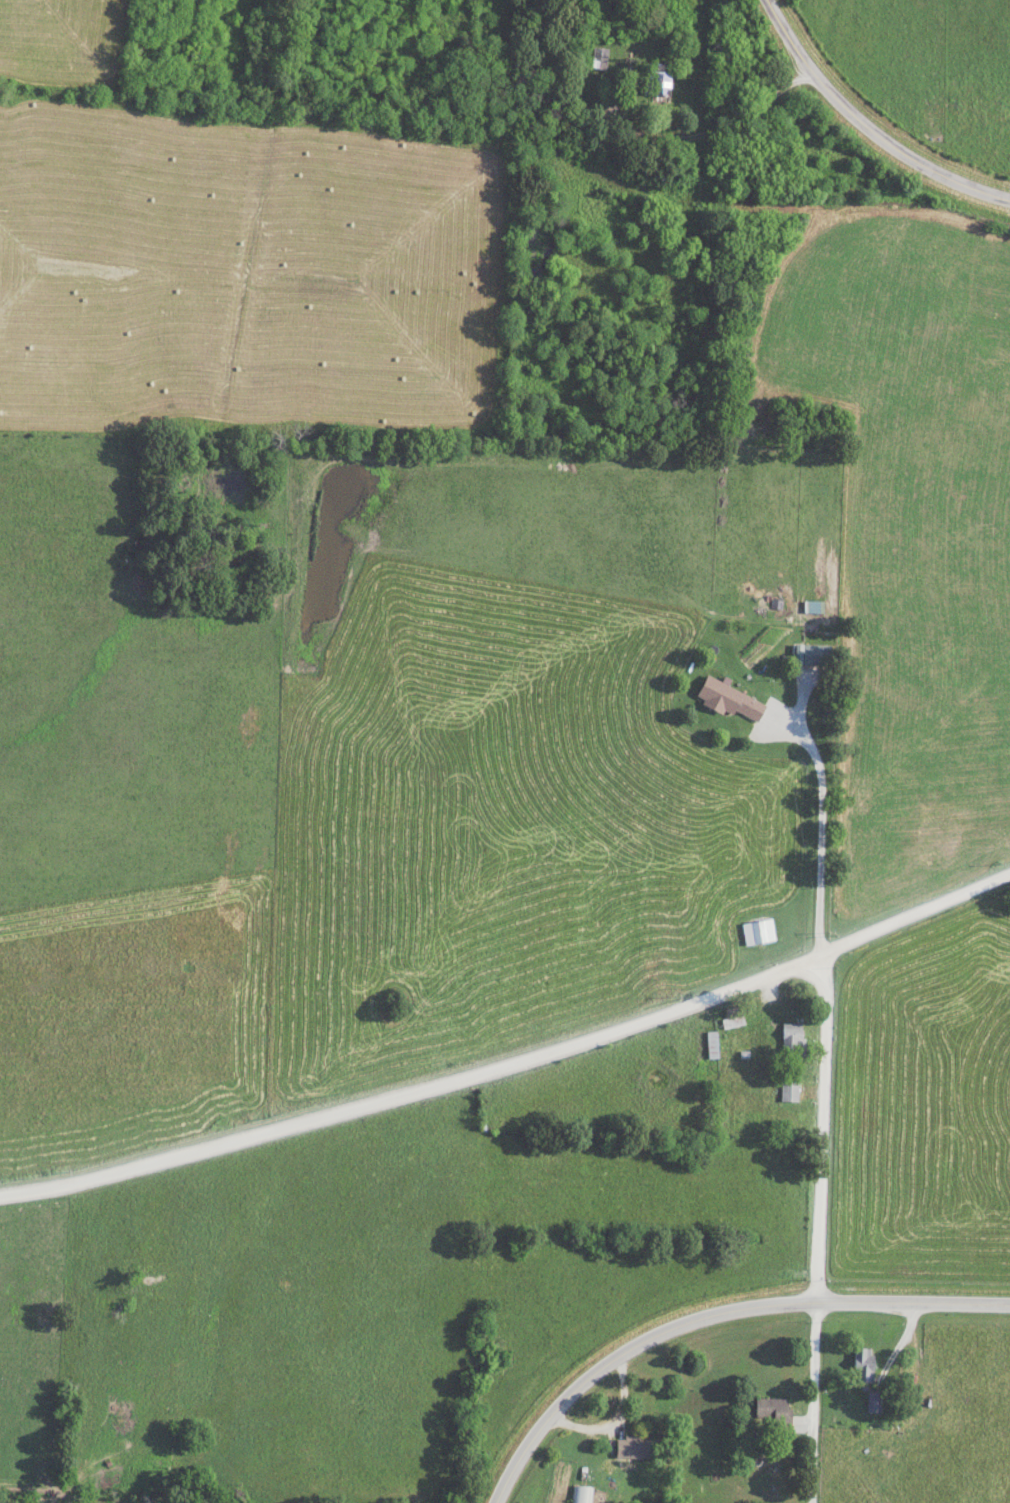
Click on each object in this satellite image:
building: (599, 57)
building: (660, 79)
road: (669, 104)
road: (864, 128)
building: (813, 606)
building: (815, 654)
building: (730, 700)
road: (820, 822)
building: (757, 931)
building: (792, 1037)
road: (514, 1064)
building: (789, 1090)
road: (819, 1228)
road: (712, 1315)
building: (863, 1364)
building: (873, 1402)
building: (774, 1410)
building: (635, 1447)
building: (581, 1494)

